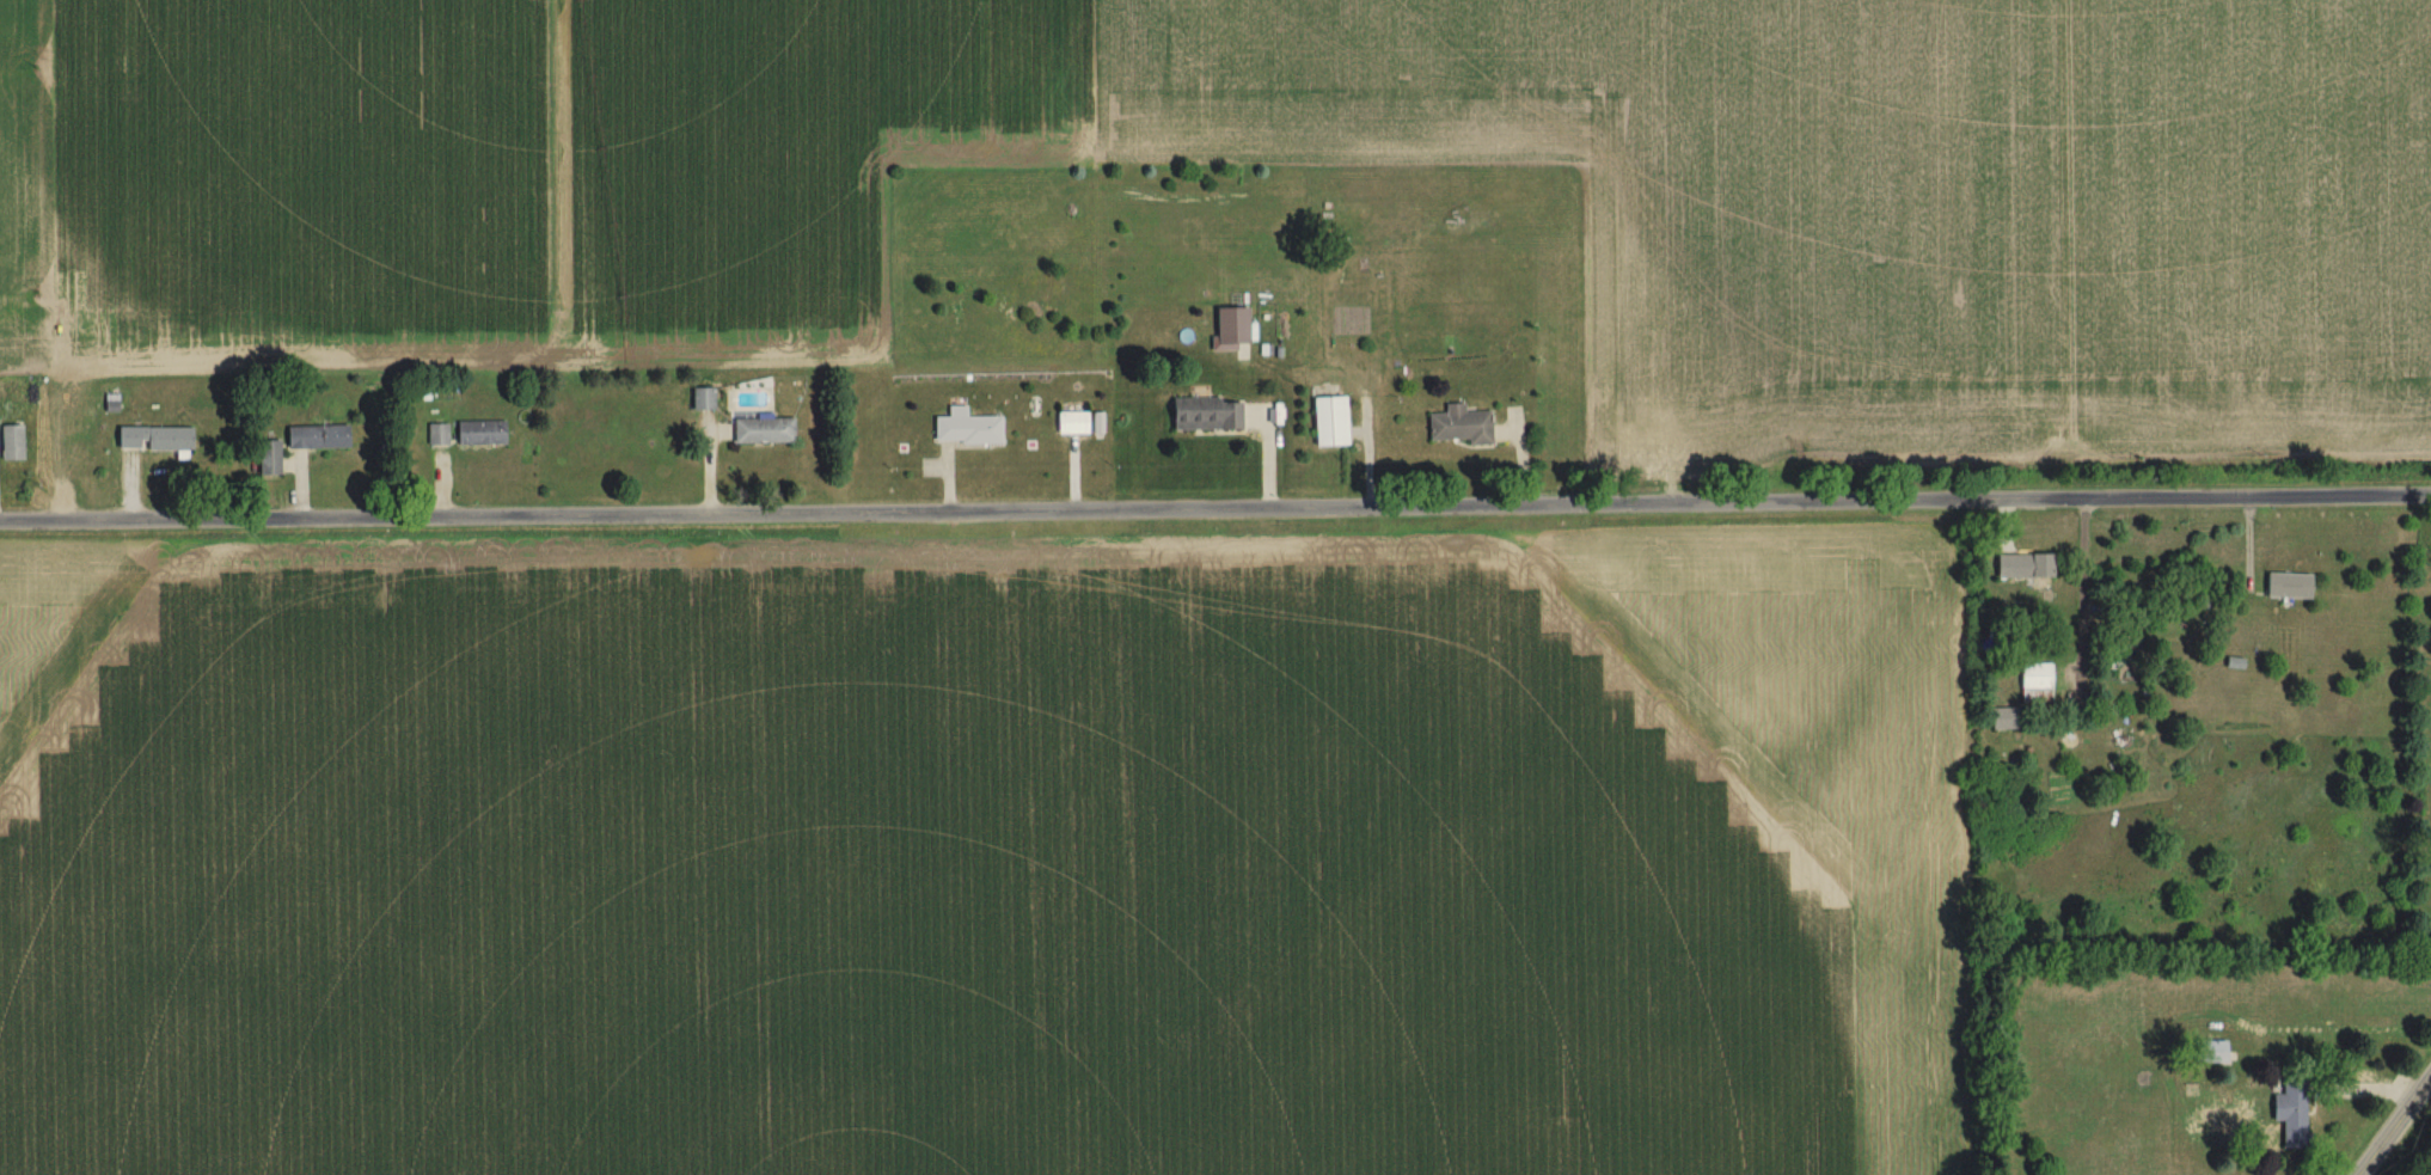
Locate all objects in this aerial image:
building: (1230, 329)
building: (702, 399)
building: (1205, 415)
building: (1329, 422)
building: (1072, 423)
building: (1458, 426)
building: (966, 428)
building: (763, 430)
building: (480, 433)
building: (436, 435)
building: (317, 437)
building: (153, 440)
building: (11, 443)
building: (268, 458)
road: (1215, 509)
building: (2022, 565)
building: (2033, 683)
building: (2002, 718)
building: (2209, 1053)
building: (2289, 1114)
road: (2393, 1121)

